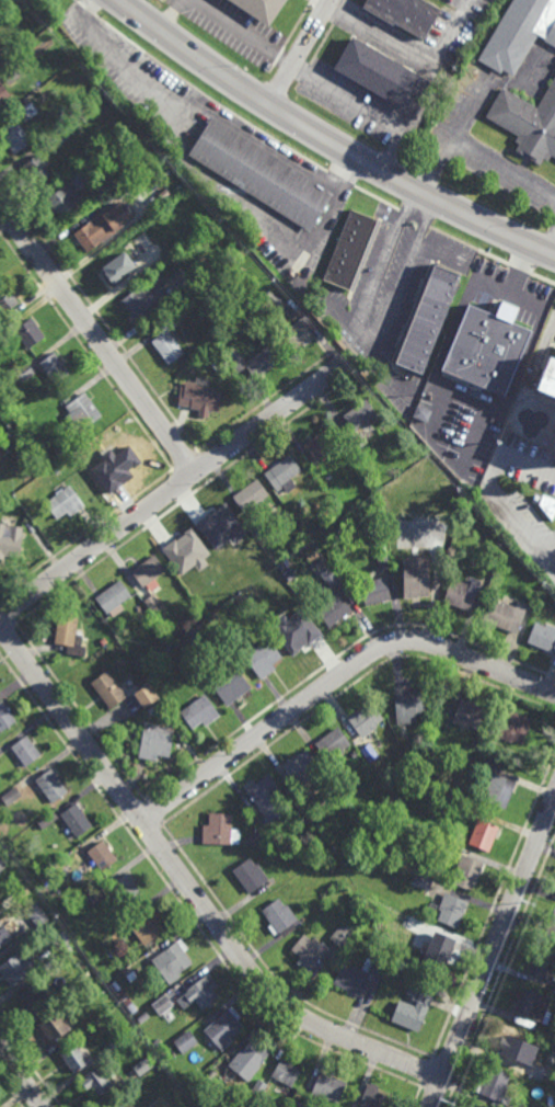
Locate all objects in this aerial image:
road: (86, 9)
building: (259, 9)
building: (405, 13)
road: (221, 18)
building: (518, 33)
road: (405, 44)
road: (296, 52)
building: (9, 70)
building: (381, 73)
building: (91, 85)
building: (4, 95)
road: (209, 99)
road: (362, 107)
building: (25, 110)
road: (209, 111)
building: (527, 123)
building: (13, 136)
building: (57, 137)
road: (329, 141)
road: (471, 151)
building: (36, 169)
building: (81, 170)
building: (259, 174)
road: (340, 180)
building: (109, 185)
road: (377, 198)
building: (63, 202)
road: (415, 219)
building: (102, 227)
road: (550, 237)
road: (469, 246)
building: (351, 251)
road: (510, 251)
building: (158, 253)
road: (440, 253)
building: (113, 270)
building: (263, 293)
building: (206, 295)
building: (273, 299)
building: (5, 300)
building: (143, 301)
road: (99, 315)
building: (426, 319)
building: (28, 334)
building: (296, 334)
road: (97, 336)
road: (367, 340)
building: (165, 342)
building: (484, 350)
road: (85, 351)
road: (347, 360)
building: (205, 362)
building: (252, 363)
building: (54, 369)
building: (24, 374)
building: (547, 380)
building: (198, 397)
road: (265, 401)
road: (485, 409)
building: (82, 411)
building: (421, 412)
road: (435, 413)
building: (358, 423)
building: (509, 426)
building: (2, 440)
road: (473, 442)
building: (544, 443)
building: (320, 444)
building: (79, 449)
building: (2, 450)
building: (104, 459)
road: (185, 459)
building: (117, 460)
road: (207, 464)
building: (55, 469)
building: (281, 471)
road: (182, 482)
road: (173, 488)
road: (495, 491)
building: (250, 493)
road: (187, 499)
building: (63, 501)
building: (546, 503)
building: (463, 505)
building: (216, 518)
building: (553, 518)
building: (321, 523)
building: (27, 524)
building: (256, 528)
road: (85, 530)
building: (10, 538)
building: (499, 541)
building: (182, 545)
building: (382, 557)
building: (320, 562)
building: (280, 566)
building: (149, 571)
building: (290, 574)
building: (413, 574)
building: (329, 575)
building: (187, 579)
building: (375, 589)
building: (250, 592)
building: (461, 593)
building: (113, 596)
building: (153, 603)
building: (333, 607)
road: (8, 612)
building: (148, 614)
building: (504, 614)
building: (161, 615)
building: (215, 616)
building: (154, 621)
building: (165, 623)
road: (8, 629)
building: (298, 629)
building: (68, 634)
building: (542, 636)
building: (102, 640)
building: (263, 658)
road: (336, 658)
building: (198, 665)
road: (335, 678)
building: (229, 685)
building: (107, 687)
road: (346, 689)
building: (144, 694)
building: (408, 706)
building: (154, 707)
road: (80, 710)
building: (199, 711)
building: (469, 715)
building: (4, 716)
building: (366, 719)
building: (509, 728)
building: (154, 741)
building: (332, 743)
building: (25, 750)
building: (354, 753)
building: (369, 753)
building: (429, 756)
building: (488, 756)
building: (300, 767)
building: (50, 785)
building: (497, 789)
building: (11, 795)
building: (268, 798)
building: (458, 806)
road: (130, 807)
road: (152, 811)
building: (47, 819)
building: (76, 820)
building: (219, 830)
road: (149, 833)
building: (481, 834)
building: (255, 838)
building: (102, 855)
building: (2, 861)
building: (465, 871)
building: (250, 875)
building: (44, 880)
building: (423, 880)
building: (125, 888)
road: (190, 888)
building: (18, 894)
building: (94, 895)
road: (494, 901)
road: (182, 904)
building: (432, 908)
building: (359, 909)
building: (451, 910)
power tower: (531, 910)
building: (35, 914)
building: (278, 916)
building: (551, 925)
building: (140, 926)
building: (343, 934)
building: (3, 935)
building: (60, 944)
building: (309, 951)
road: (493, 951)
building: (437, 955)
building: (170, 962)
building: (542, 962)
building: (15, 968)
building: (374, 971)
road: (271, 972)
road: (499, 972)
building: (86, 977)
building: (350, 979)
building: (425, 984)
building: (114, 986)
building: (553, 991)
building: (199, 993)
building: (36, 996)
building: (125, 1003)
building: (161, 1005)
building: (531, 1006)
building: (412, 1011)
building: (142, 1017)
building: (54, 1027)
building: (223, 1029)
building: (539, 1029)
building: (185, 1042)
building: (115, 1043)
building: (157, 1045)
building: (509, 1046)
building: (254, 1052)
building: (162, 1053)
building: (72, 1058)
road: (446, 1062)
road: (30, 1065)
building: (142, 1066)
road: (425, 1072)
building: (286, 1073)
road: (21, 1076)
building: (544, 1076)
building: (95, 1083)
building: (496, 1086)
building: (328, 1087)
building: (257, 1088)
road: (10, 1092)
road: (433, 1095)
road: (416, 1097)
building: (374, 1098)
power tower: (449, 1100)
building: (158, 1102)
building: (114, 1105)
building: (119, 1105)

